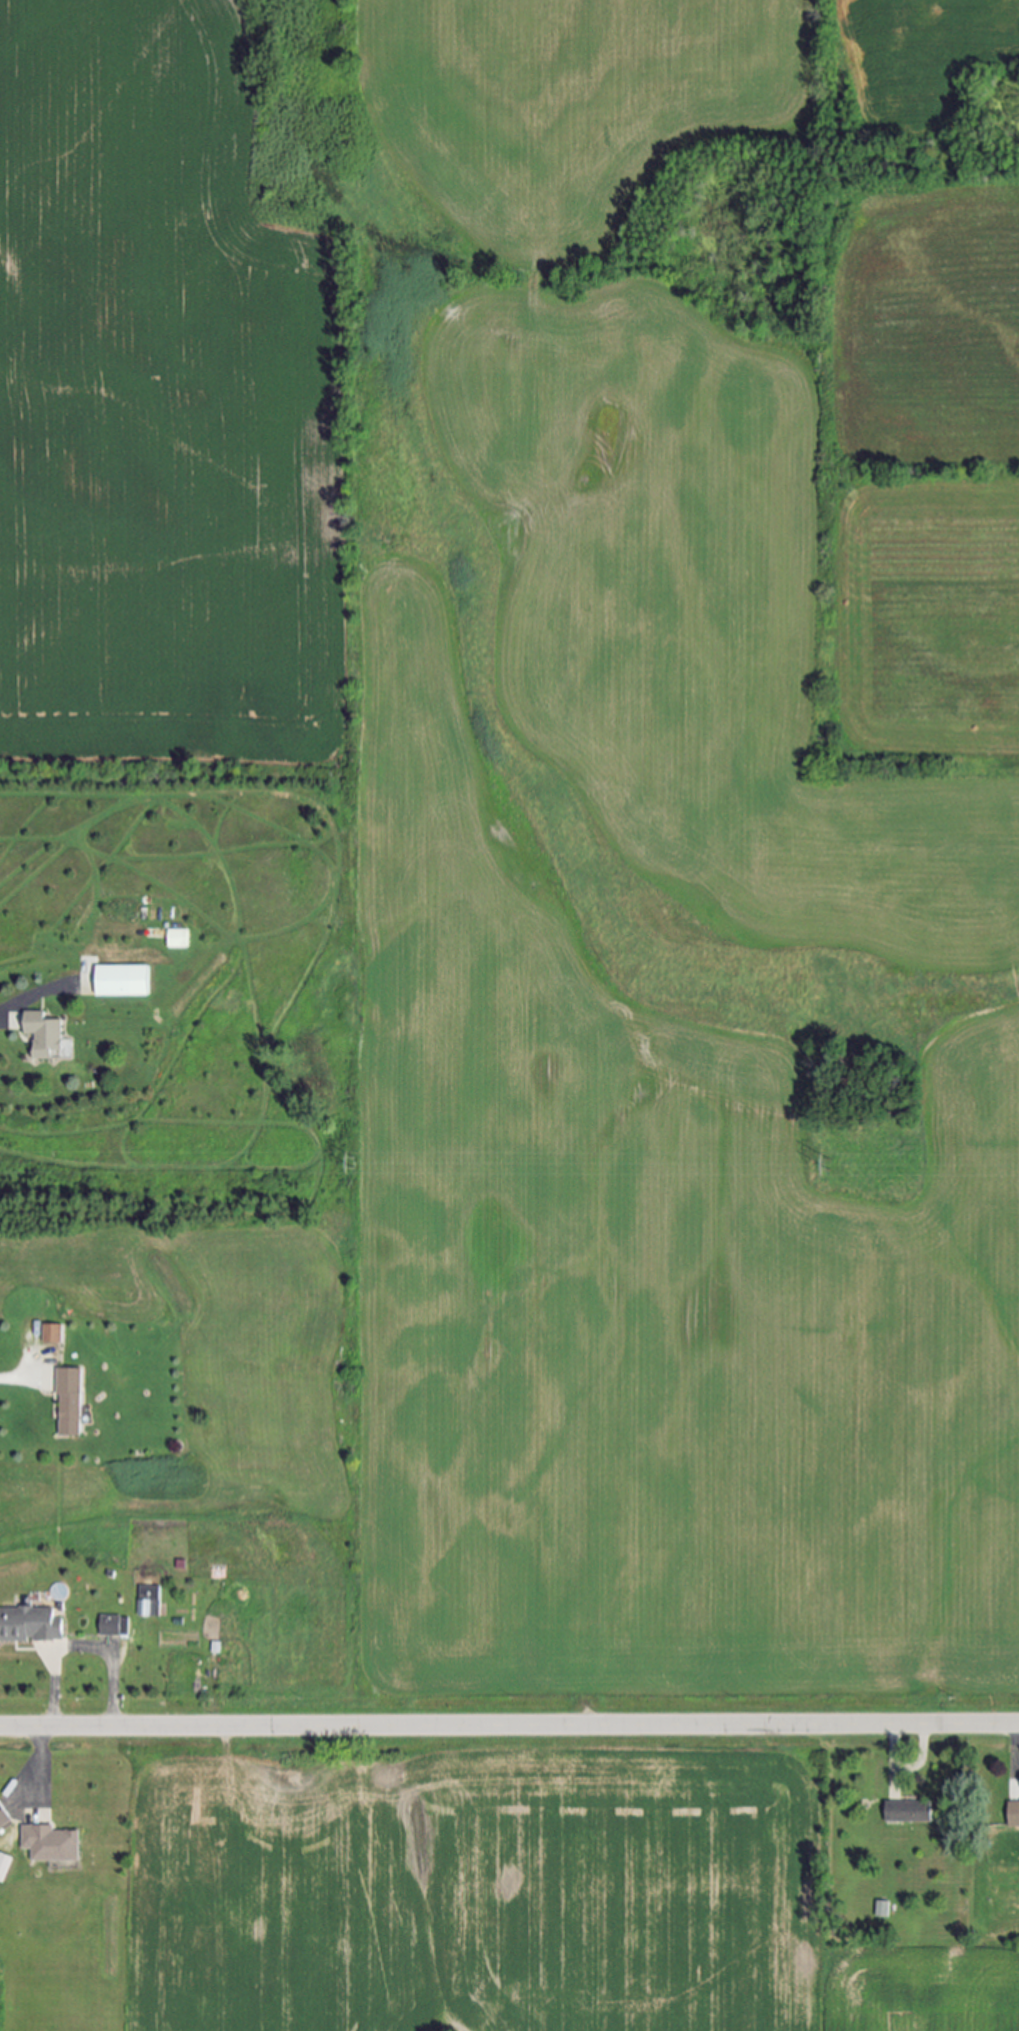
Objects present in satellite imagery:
crop: (735, 461)
building: (177, 938)
building: (115, 982)
road: (25, 999)
crop: (487, 1013)
building: (44, 1036)
power tower: (357, 1166)
power tower: (837, 1166)
building: (50, 1334)
road: (19, 1377)
building: (64, 1399)
building: (149, 1602)
building: (30, 1625)
building: (114, 1626)
road: (51, 1652)
road: (509, 1726)
road: (1018, 1751)
road: (893, 1757)
building: (908, 1812)
building: (4, 1816)
building: (1013, 1816)
building: (52, 1845)
building: (5, 1865)
crop: (513, 1891)
building: (883, 1908)

